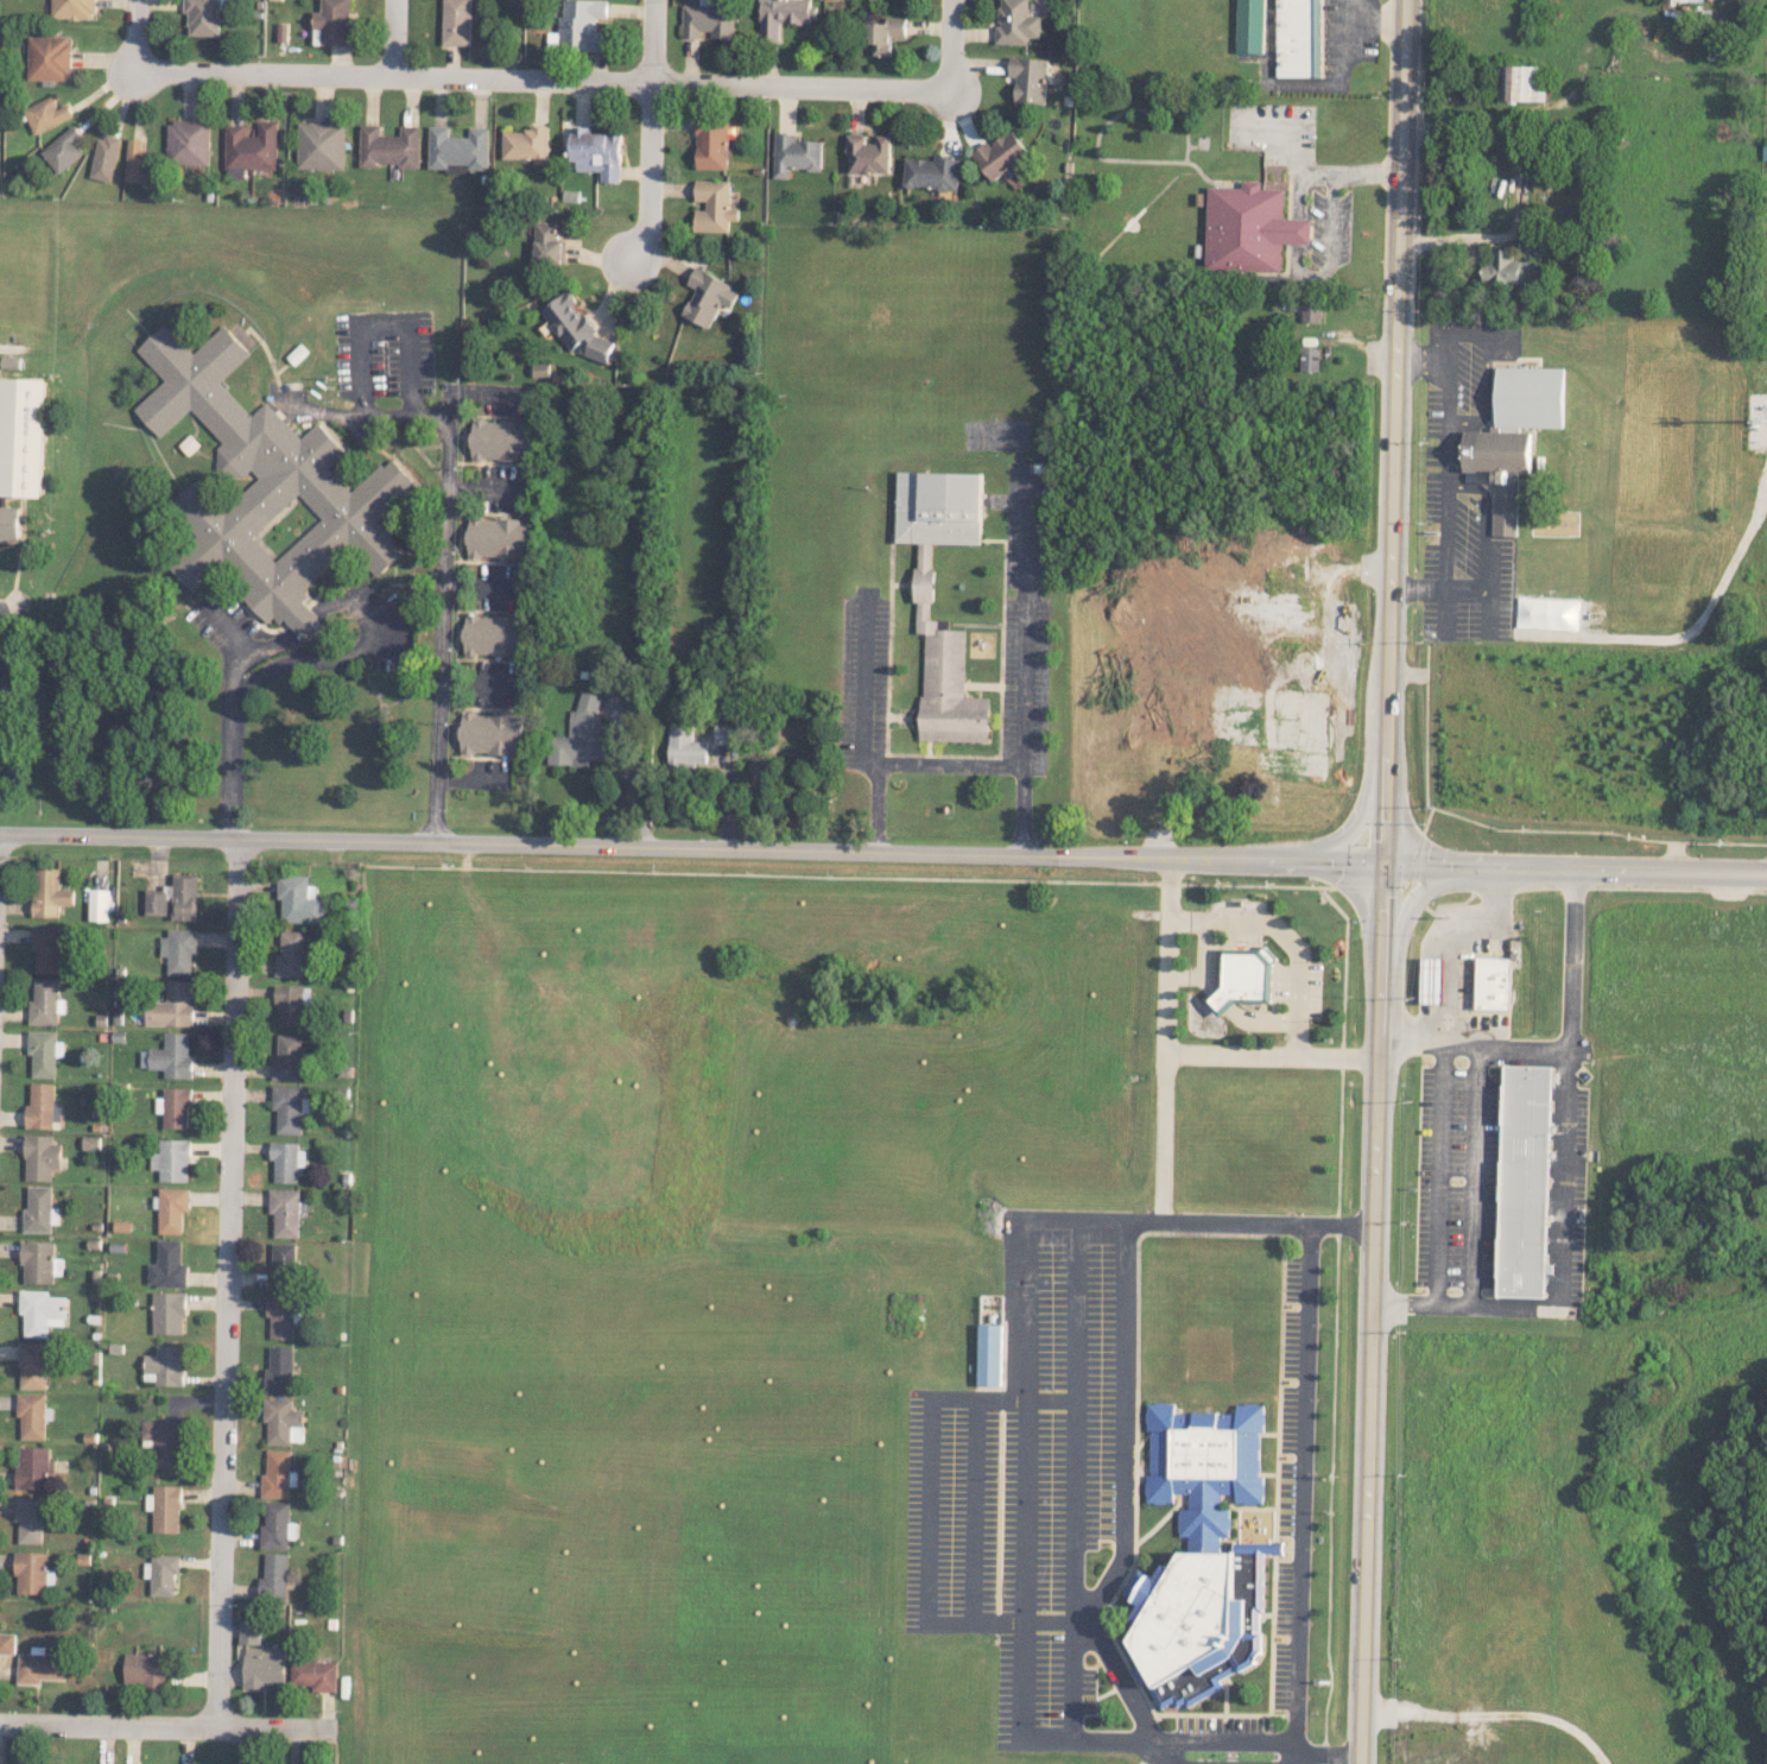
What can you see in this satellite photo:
building: (1684, 0)
building: (72, 10)
building: (203, 17)
building: (781, 17)
building: (335, 21)
building: (457, 21)
building: (708, 21)
building: (1016, 23)
building: (582, 24)
building: (1250, 26)
building: (885, 34)
road: (137, 36)
road: (397, 37)
building: (1298, 38)
road: (951, 45)
building: (49, 57)
road: (544, 77)
building: (1030, 78)
building: (1520, 82)
building: (46, 114)
road: (648, 133)
building: (188, 143)
building: (525, 144)
building: (711, 144)
building: (321, 145)
building: (389, 146)
building: (457, 147)
building: (251, 148)
building: (64, 150)
building: (596, 152)
building: (868, 153)
building: (1001, 153)
building: (796, 154)
building: (104, 158)
building: (139, 163)
building: (932, 172)
building: (714, 206)
building: (1250, 228)
building: (547, 244)
building: (1508, 268)
building: (708, 296)
building: (1311, 311)
road: (1398, 314)
building: (576, 328)
road: (361, 343)
building: (1310, 359)
building: (1529, 397)
building: (21, 436)
building: (501, 440)
building: (1500, 469)
building: (265, 487)
building: (8, 523)
building: (498, 537)
building: (923, 581)
building: (1241, 596)
road: (442, 618)
road: (1026, 625)
building: (493, 634)
road: (245, 685)
road: (863, 688)
building: (1279, 727)
building: (492, 733)
building: (727, 733)
building: (581, 734)
road: (1387, 745)
building: (686, 746)
road: (950, 763)
road: (691, 846)
traffic signals: (1383, 862)
road: (1575, 866)
building: (49, 892)
building: (176, 897)
building: (299, 900)
building: (99, 904)
road: (1457, 941)
building: (50, 948)
building: (179, 950)
building: (291, 953)
building: (1432, 980)
building: (1491, 982)
building: (44, 1001)
building: (290, 1004)
building: (172, 1006)
road: (1166, 1039)
road: (1474, 1039)
building: (44, 1052)
road: (1272, 1055)
building: (173, 1056)
building: (289, 1057)
building: (40, 1106)
building: (175, 1107)
building: (290, 1108)
building: (42, 1157)
building: (172, 1159)
building: (287, 1161)
road: (1440, 1171)
road: (1474, 1172)
road: (1564, 1177)
building: (1524, 1181)
building: (172, 1208)
building: (38, 1209)
building: (285, 1212)
building: (40, 1262)
building: (167, 1265)
building: (283, 1266)
road: (228, 1282)
building: (42, 1311)
building: (169, 1311)
road: (1372, 1313)
building: (280, 1317)
building: (989, 1354)
building: (33, 1365)
building: (164, 1365)
building: (279, 1370)
building: (31, 1415)
building: (283, 1421)
building: (165, 1442)
building: (34, 1467)
building: (277, 1474)
road: (1022, 1478)
road: (1075, 1480)
road: (1303, 1482)
building: (165, 1507)
road: (1123, 1509)
building: (28, 1519)
building: (277, 1525)
building: (1202, 1553)
building: (32, 1573)
building: (164, 1574)
building: (273, 1576)
building: (249, 1632)
building: (7, 1643)
building: (39, 1667)
building: (264, 1667)
building: (145, 1668)
building: (313, 1674)
road: (166, 1726)
road: (1297, 1758)
building: (1, 1763)

